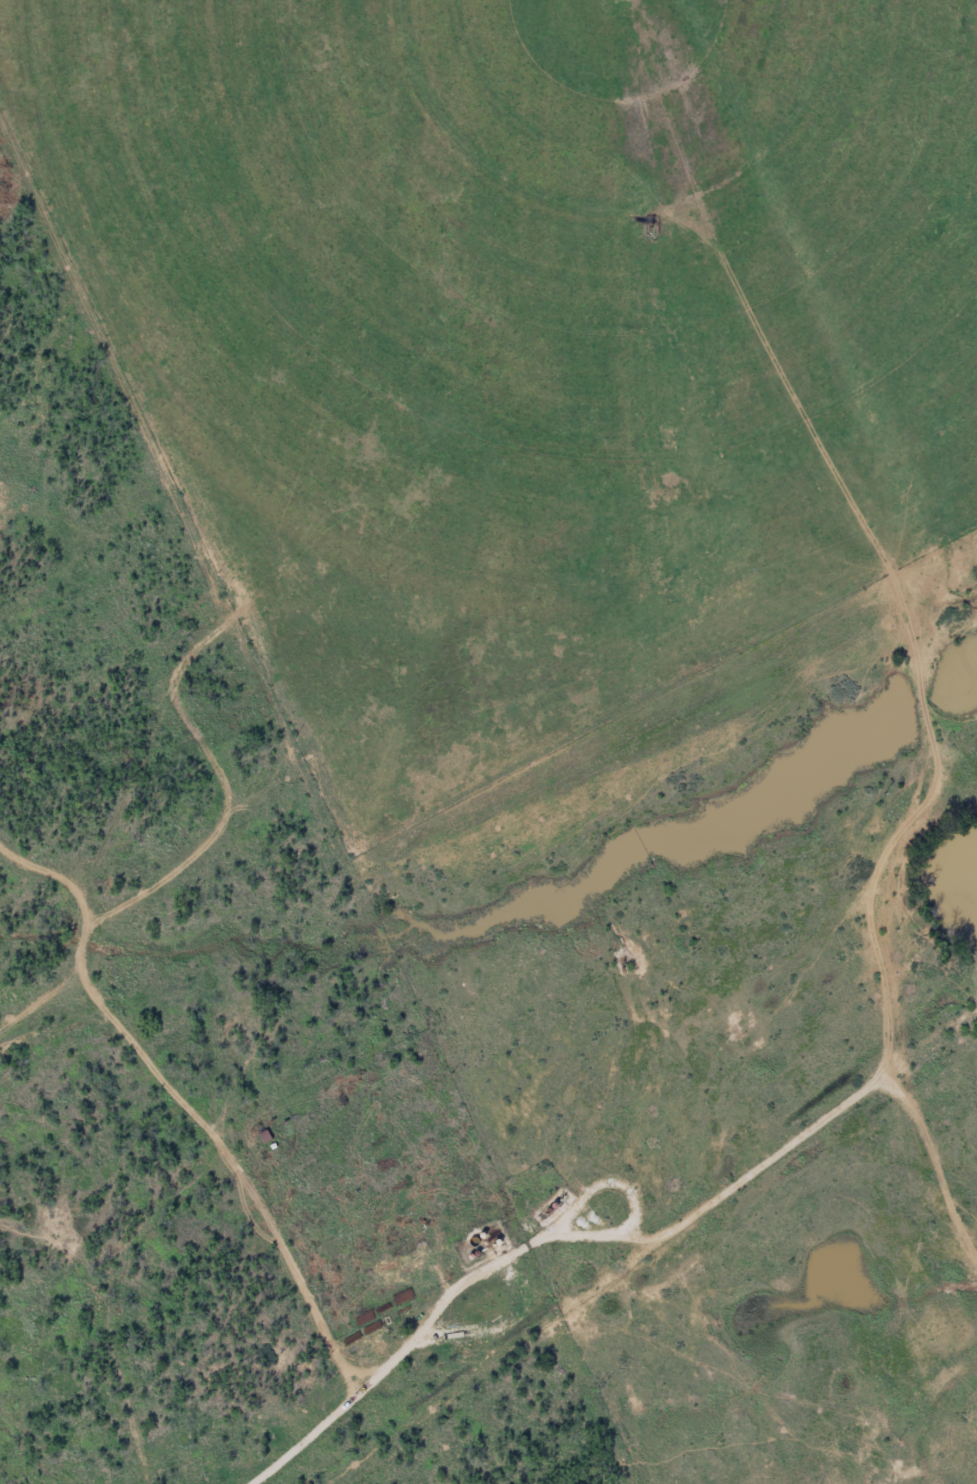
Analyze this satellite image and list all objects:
road: (184, 470)
road: (142, 1133)
road: (616, 1165)
railway: (669, 1251)
road: (45, 1446)

